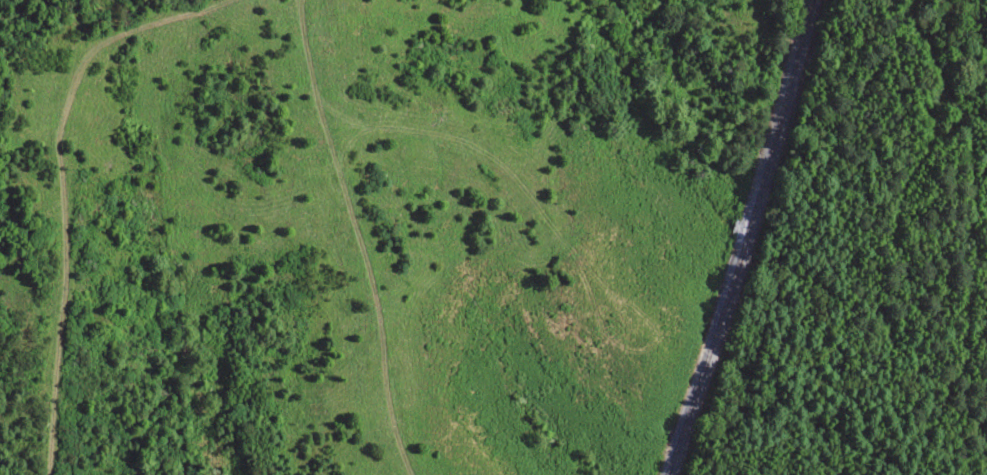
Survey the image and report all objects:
railway: (746, 240)

